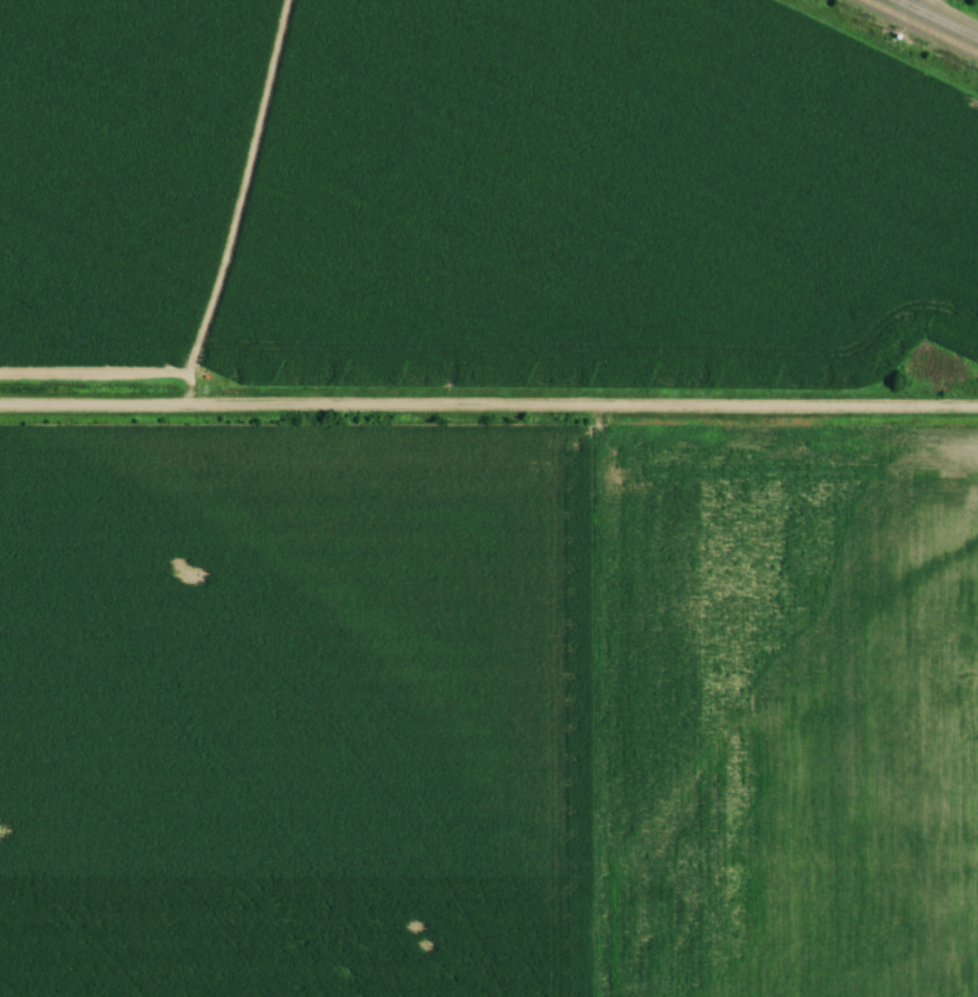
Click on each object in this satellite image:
railway: (937, 19)
railway: (921, 26)
crop: (474, 188)
road: (489, 407)

